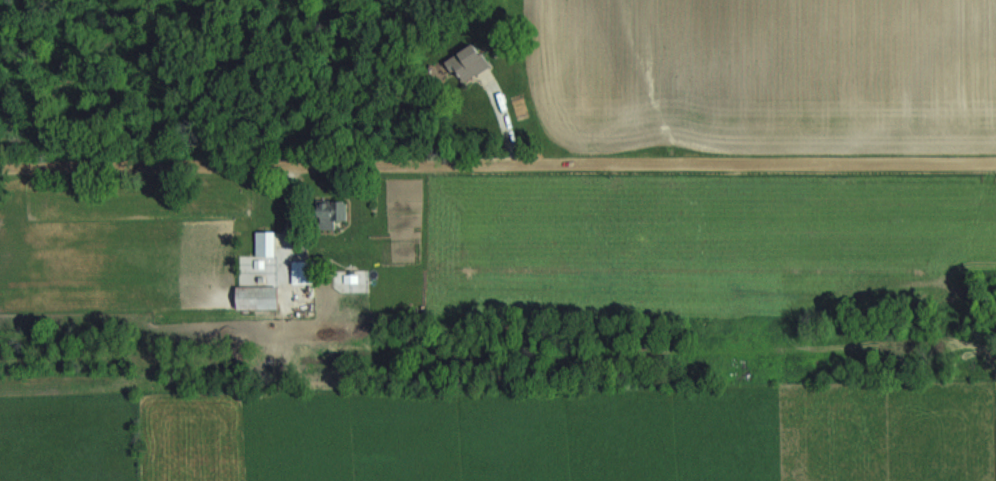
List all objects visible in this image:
building: (469, 63)
crop: (758, 65)
road: (498, 167)
building: (332, 213)
building: (266, 244)
building: (304, 273)
building: (270, 276)
building: (258, 298)

